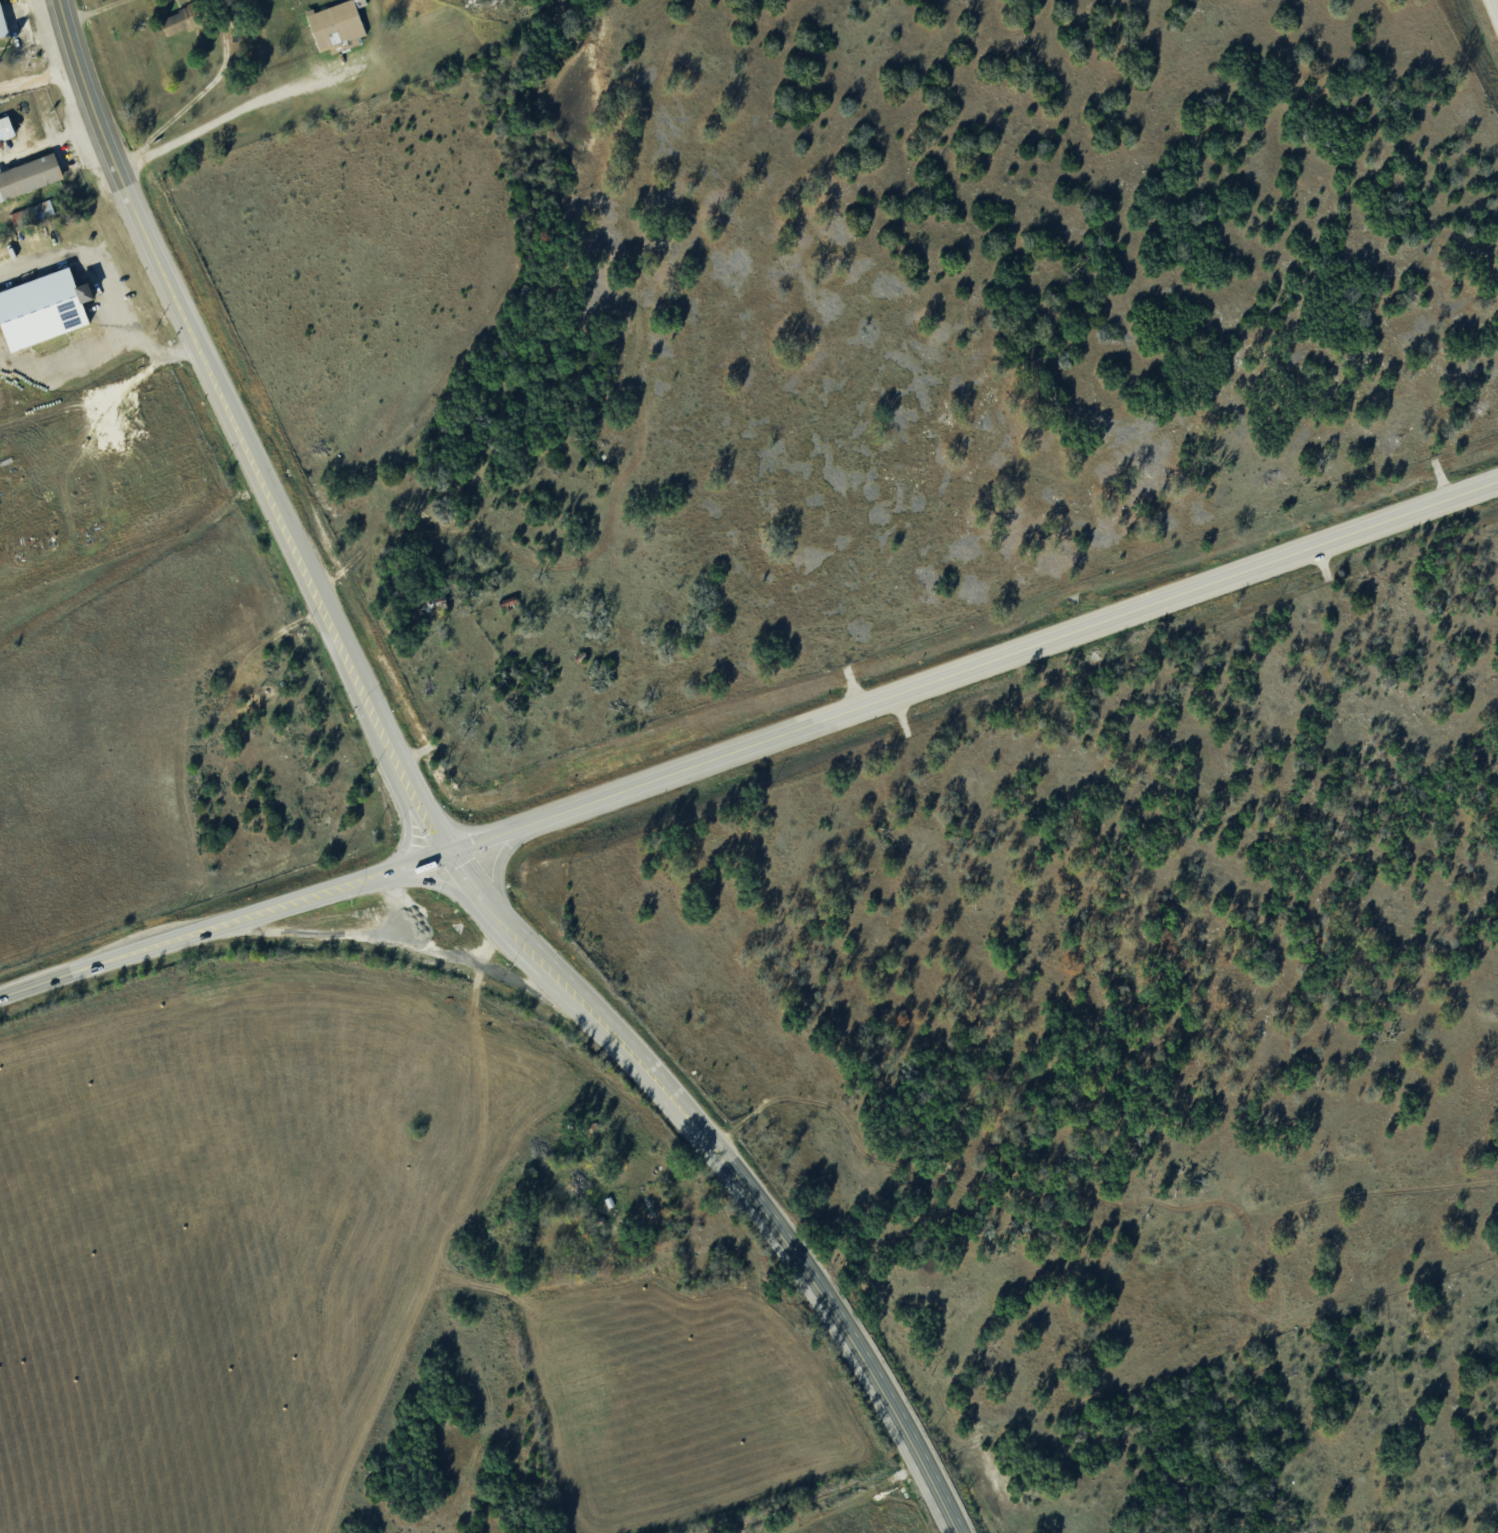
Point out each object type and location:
road: (93, 9)
road: (1494, 9)
building: (3, 21)
building: (178, 24)
building: (332, 27)
road: (38, 77)
road: (197, 95)
building: (3, 133)
building: (26, 181)
building: (33, 212)
building: (45, 307)
road: (186, 324)
road: (971, 664)
road: (386, 747)
road: (405, 826)
road: (495, 865)
road: (432, 879)
road: (222, 922)
road: (729, 1169)

